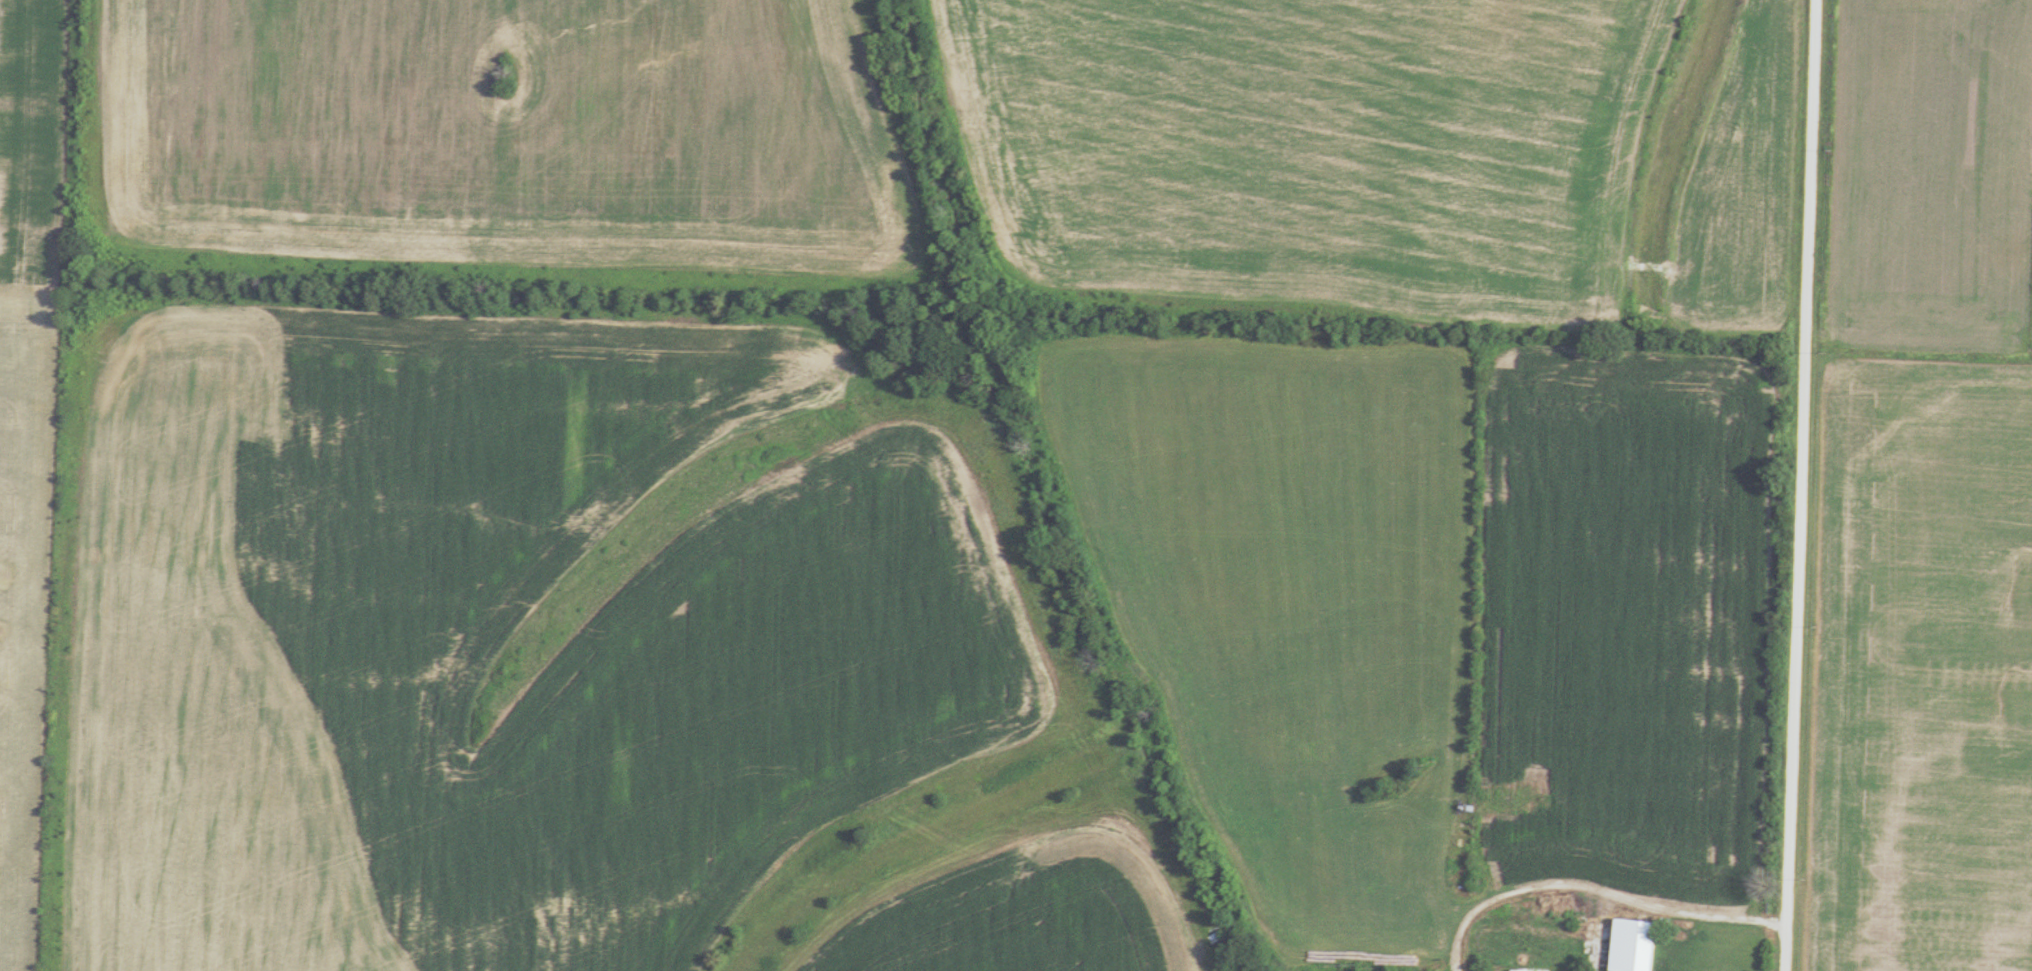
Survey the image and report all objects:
road: (1972, 39)
road: (1960, 66)
road: (1801, 485)
road: (1598, 891)
building: (1596, 944)

